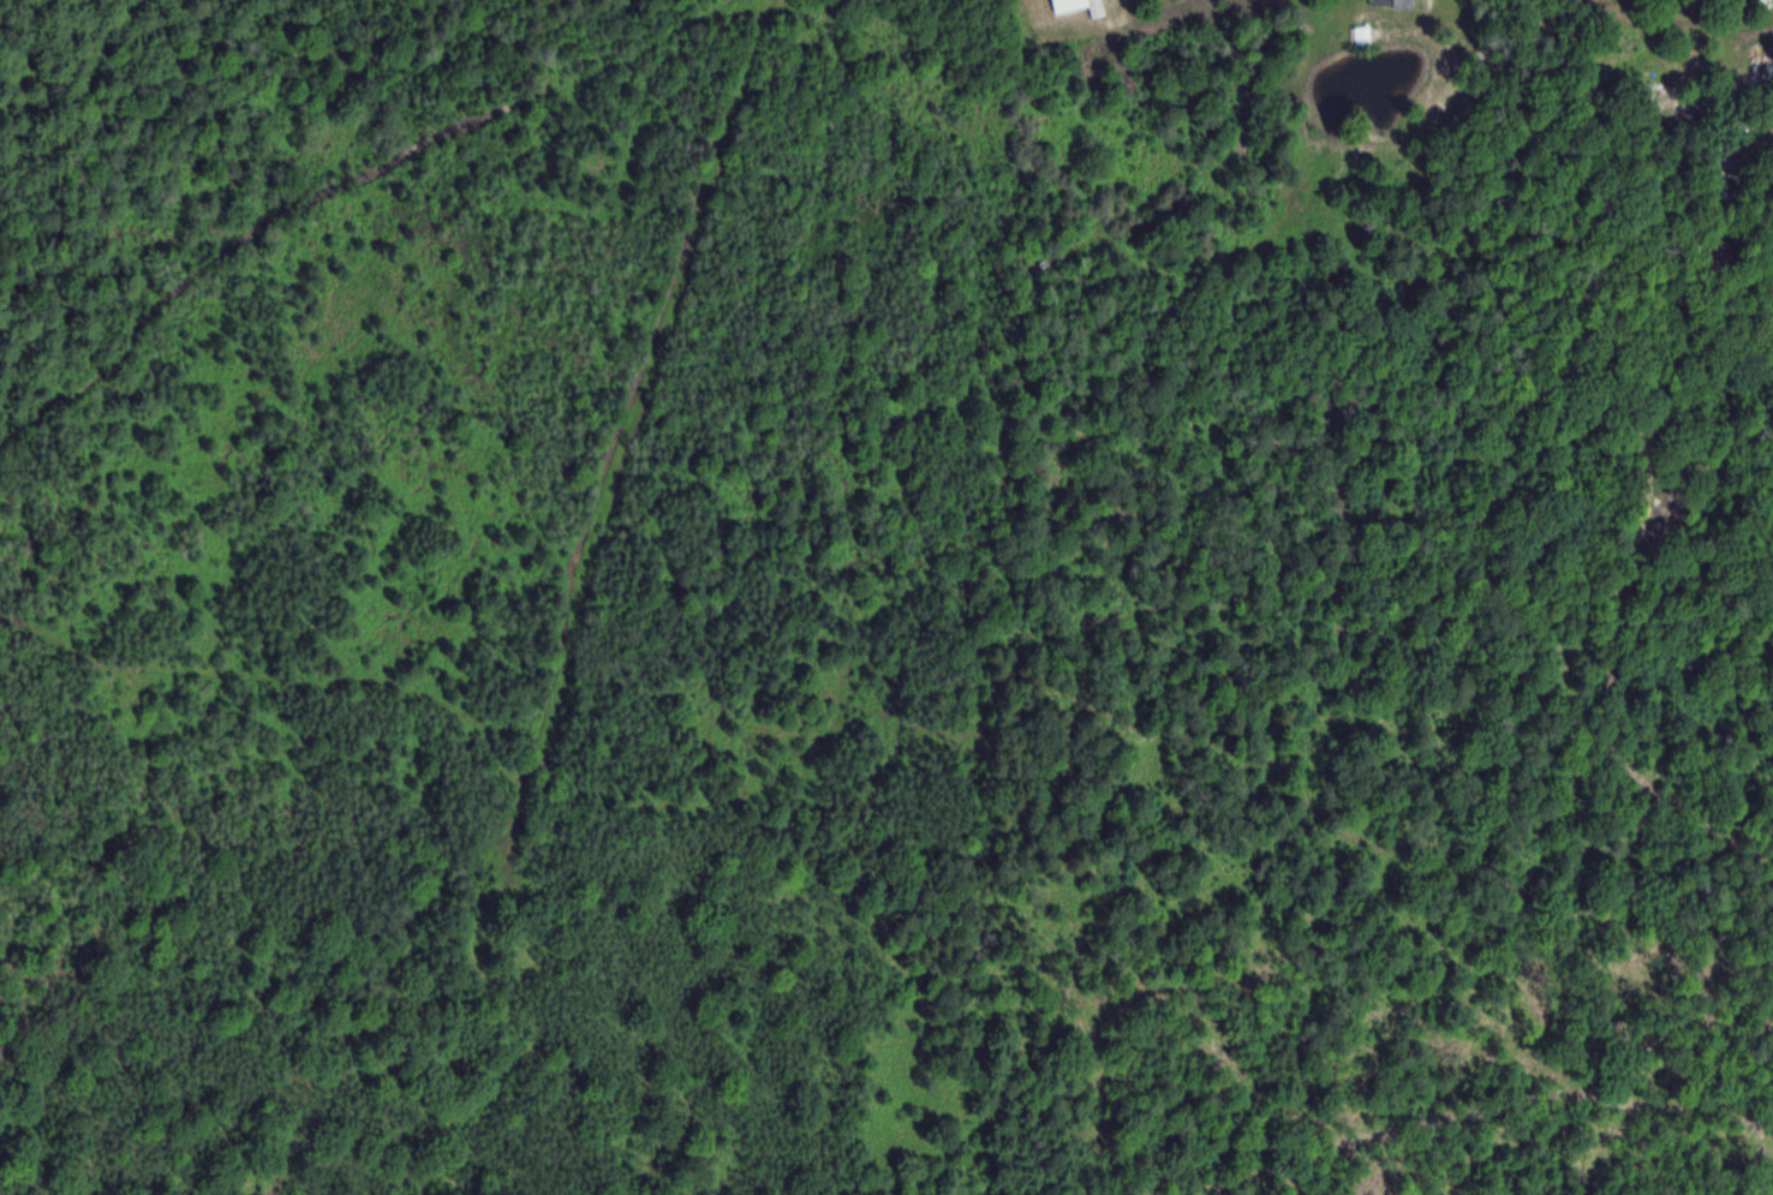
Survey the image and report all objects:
building: (1390, 2)
building: (1077, 6)

